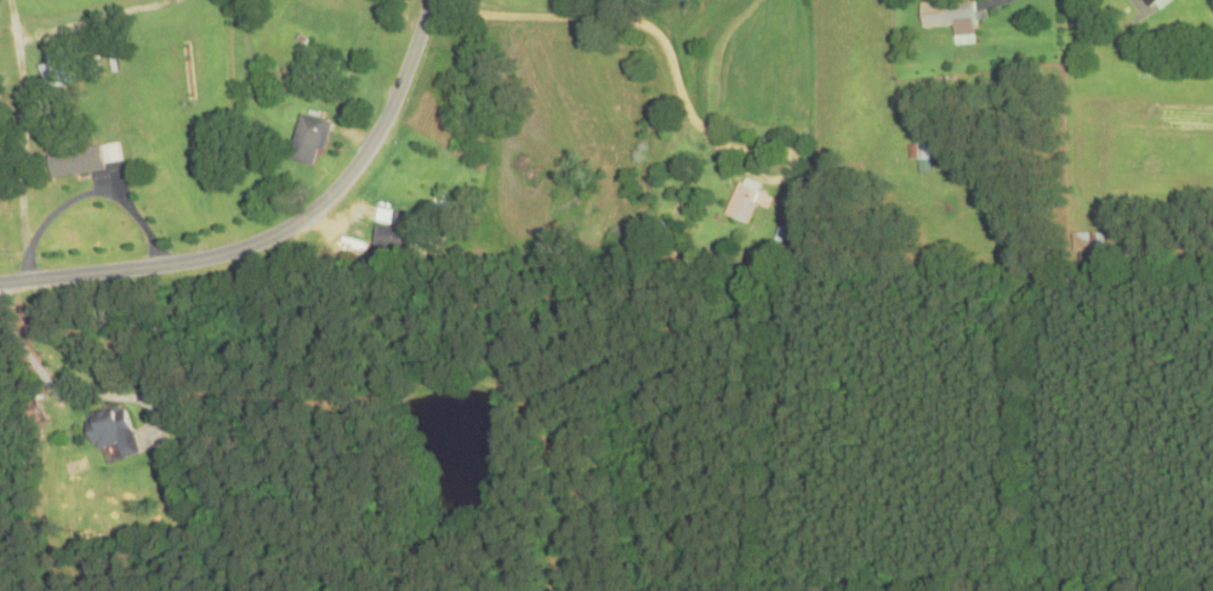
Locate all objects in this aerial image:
building: (1147, 2)
road: (953, 12)
building: (947, 16)
building: (58, 71)
road: (712, 142)
building: (304, 143)
road: (22, 153)
building: (921, 156)
building: (74, 162)
building: (745, 205)
road: (279, 231)
building: (392, 231)
building: (1087, 243)

